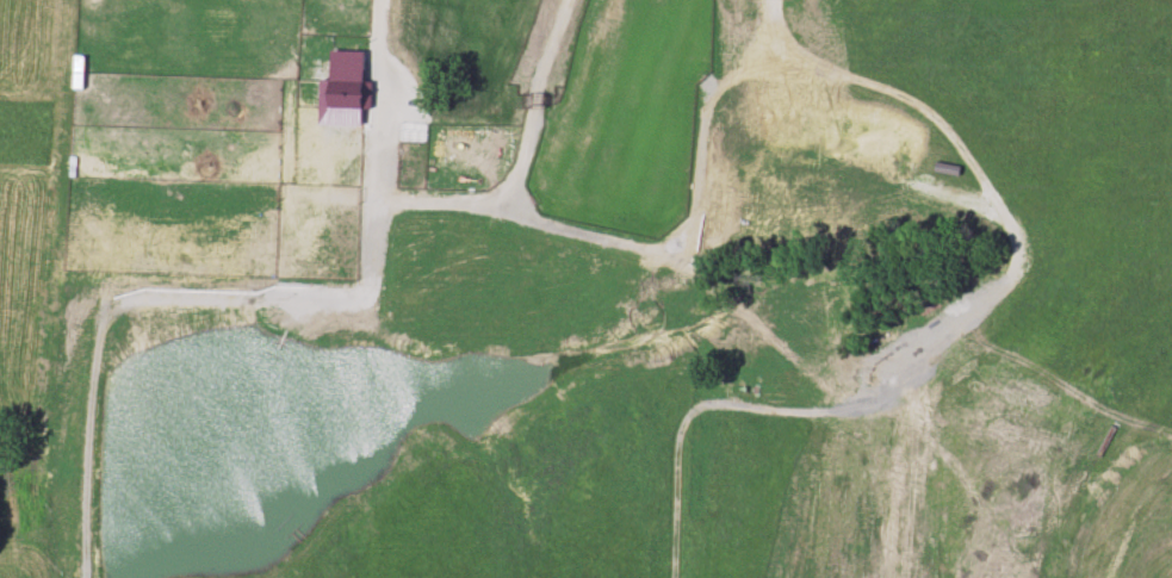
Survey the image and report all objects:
building: (447, 49)
building: (351, 94)
building: (354, 135)
building: (527, 157)
road: (446, 194)

